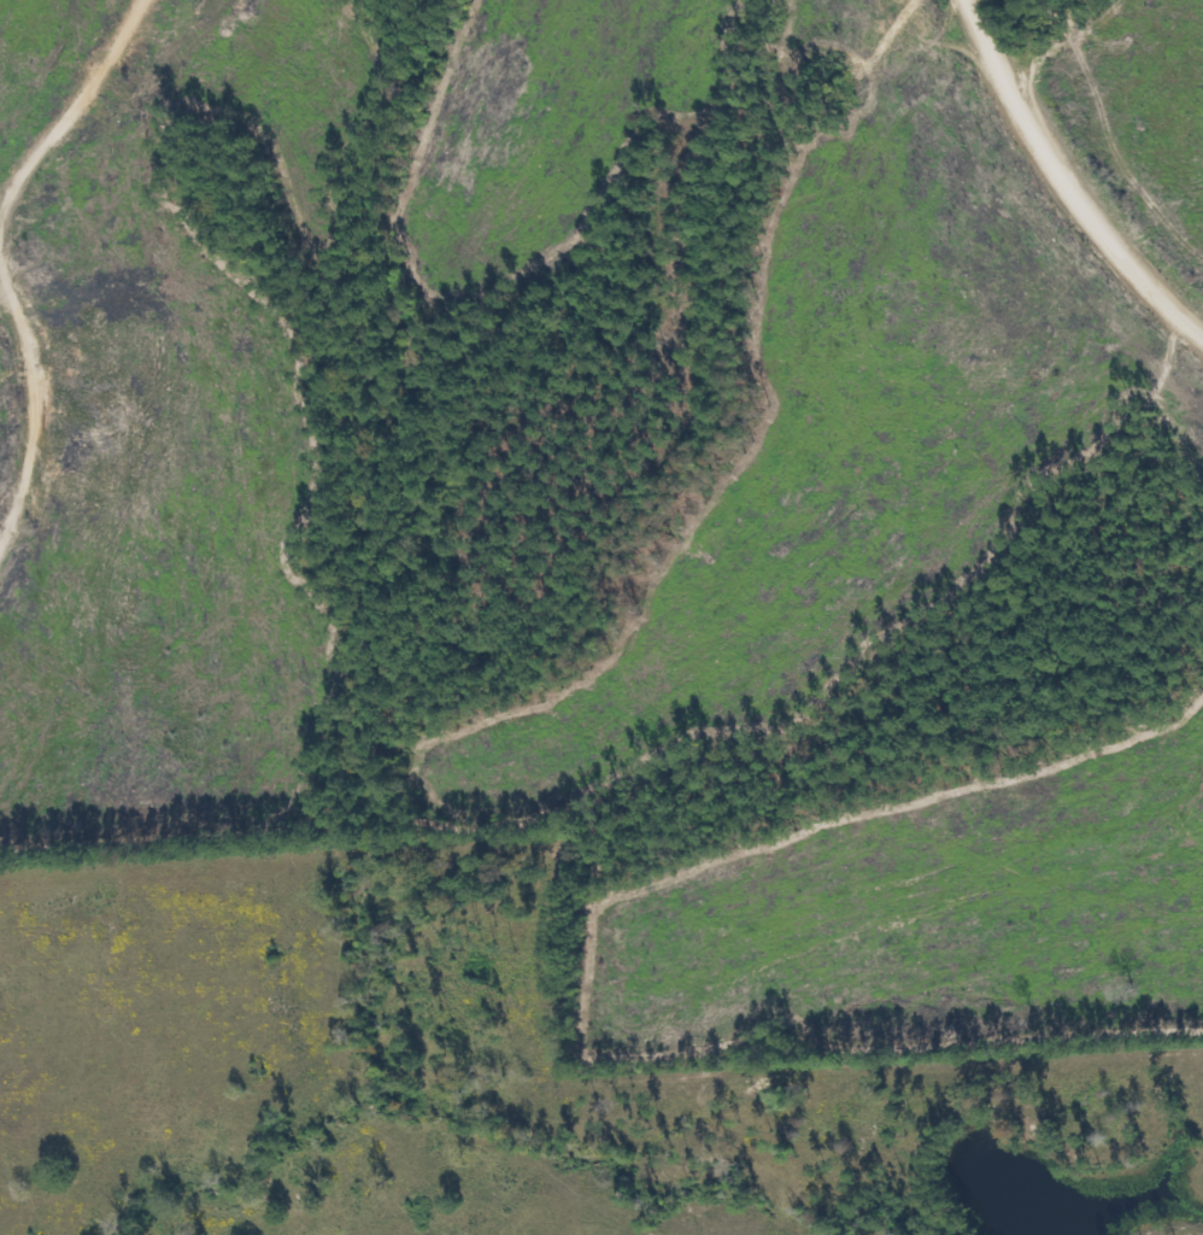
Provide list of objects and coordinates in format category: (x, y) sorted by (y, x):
road: (1075, 182)
road: (78, 258)
road: (1187, 303)

